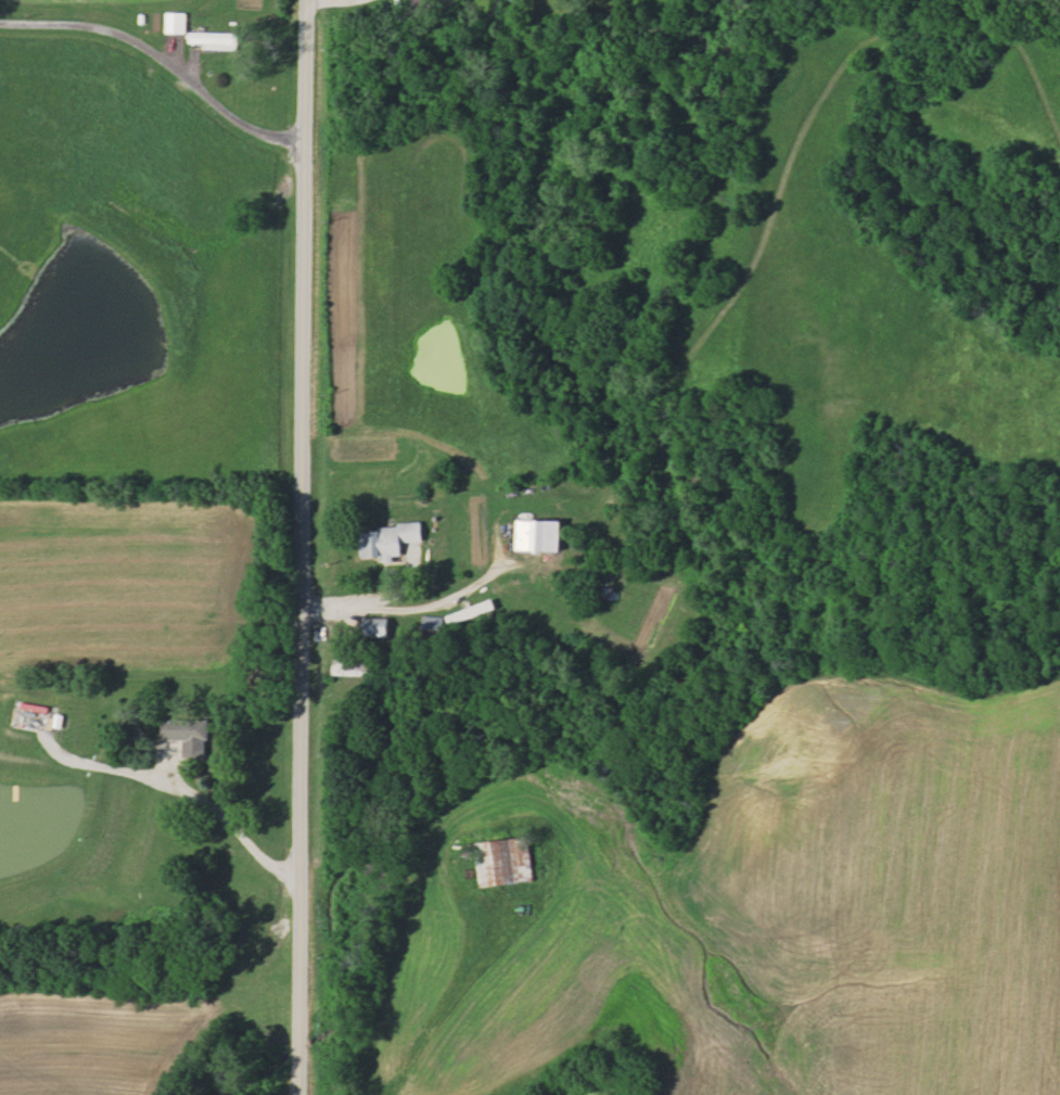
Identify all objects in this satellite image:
road: (344, 7)
building: (421, 7)
building: (176, 22)
building: (215, 39)
road: (161, 63)
building: (540, 535)
building: (389, 540)
road: (302, 547)
building: (472, 612)
road: (423, 616)
building: (435, 623)
building: (379, 627)
building: (357, 664)
building: (193, 736)
road: (226, 824)
building: (506, 862)
road: (436, 995)

